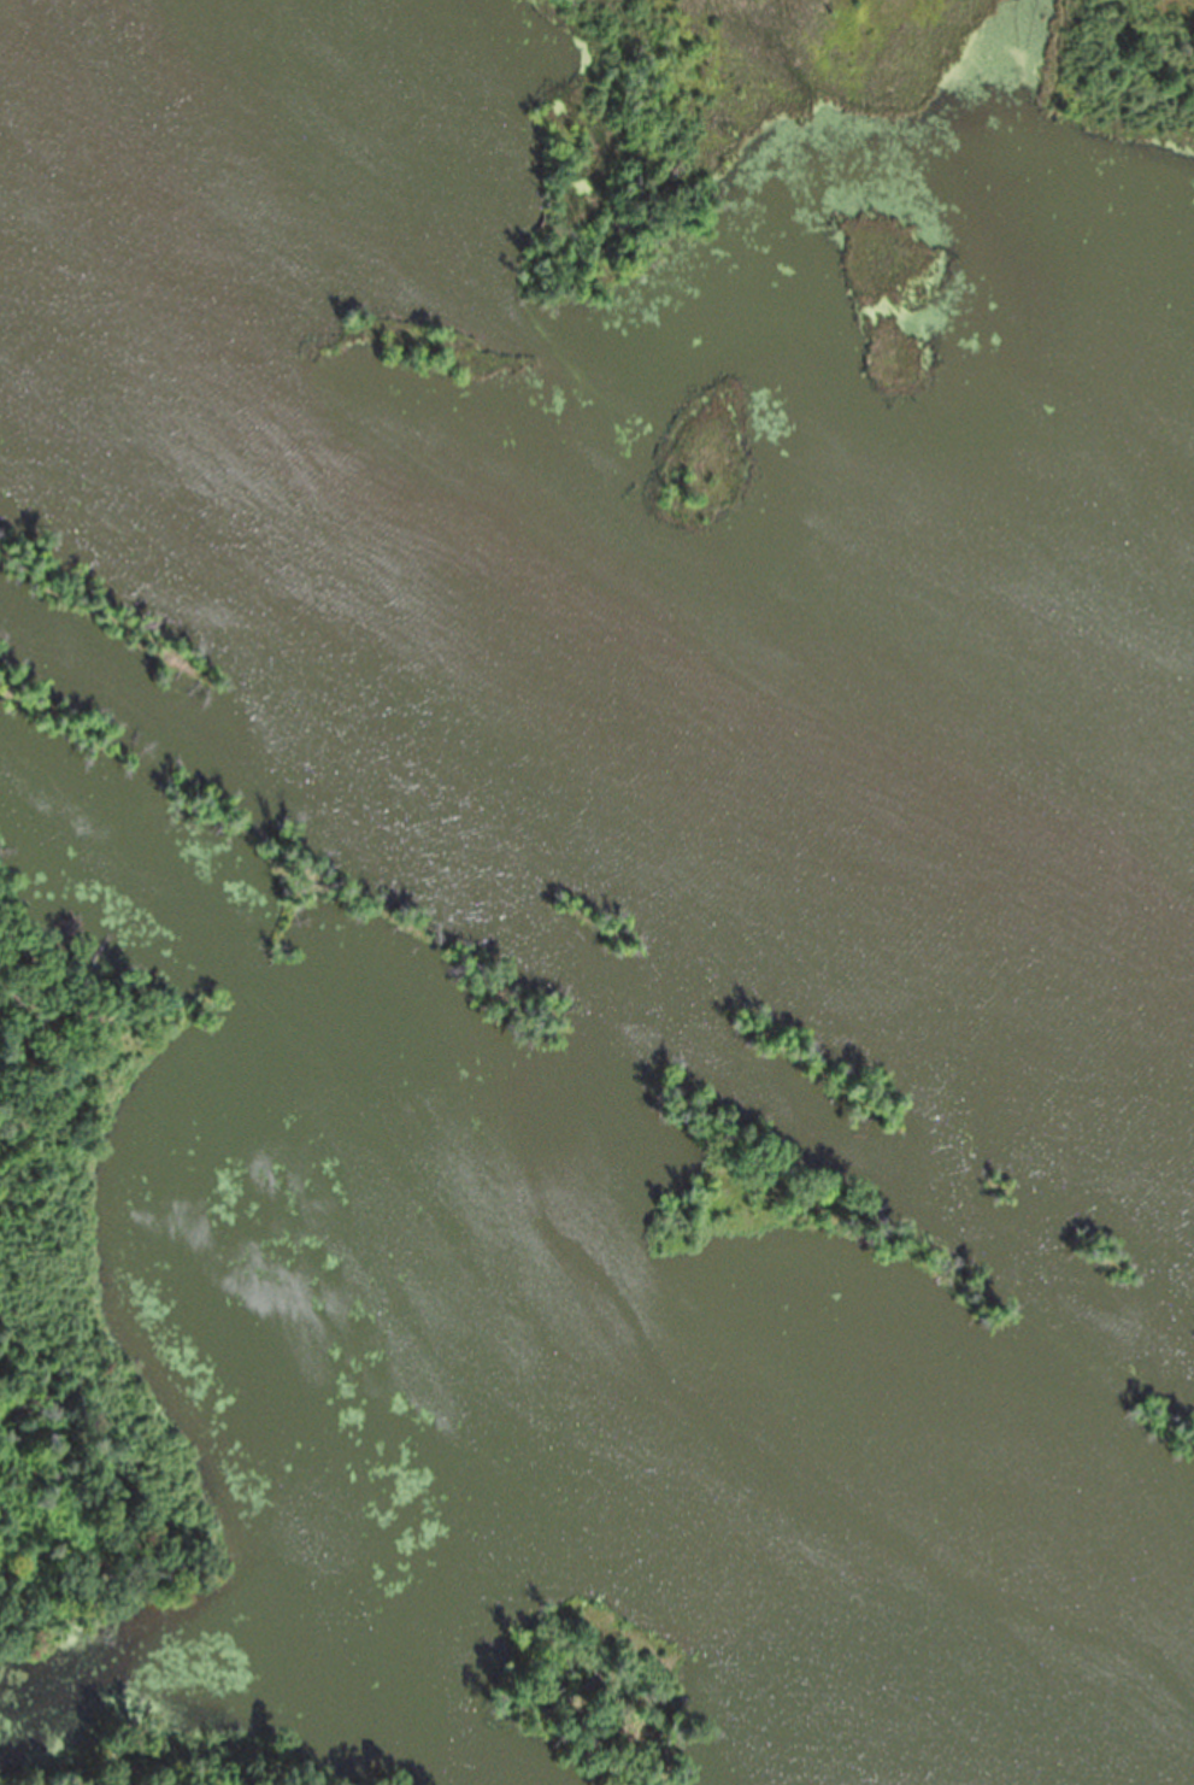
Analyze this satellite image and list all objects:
river: (112, 697)
river: (710, 1071)

